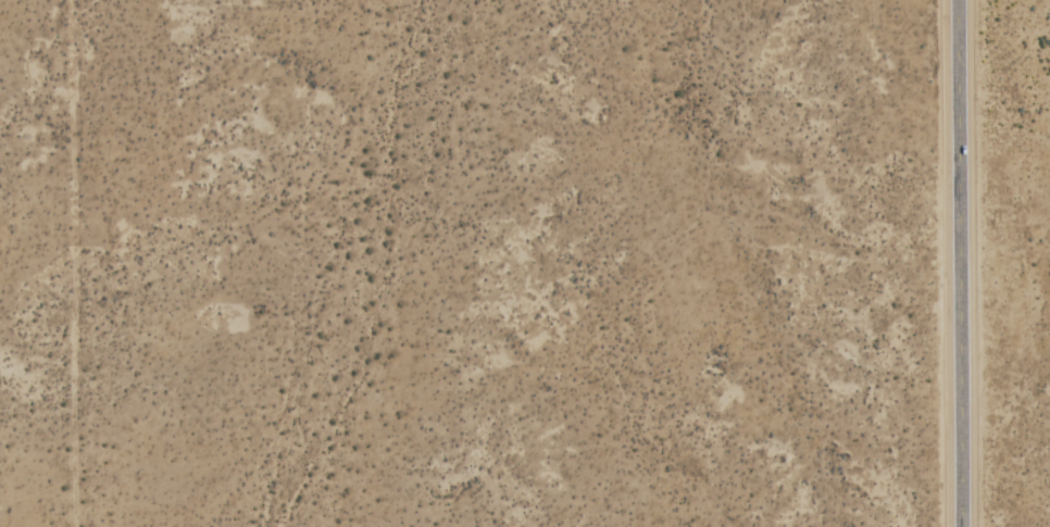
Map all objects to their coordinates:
road: (971, 263)

